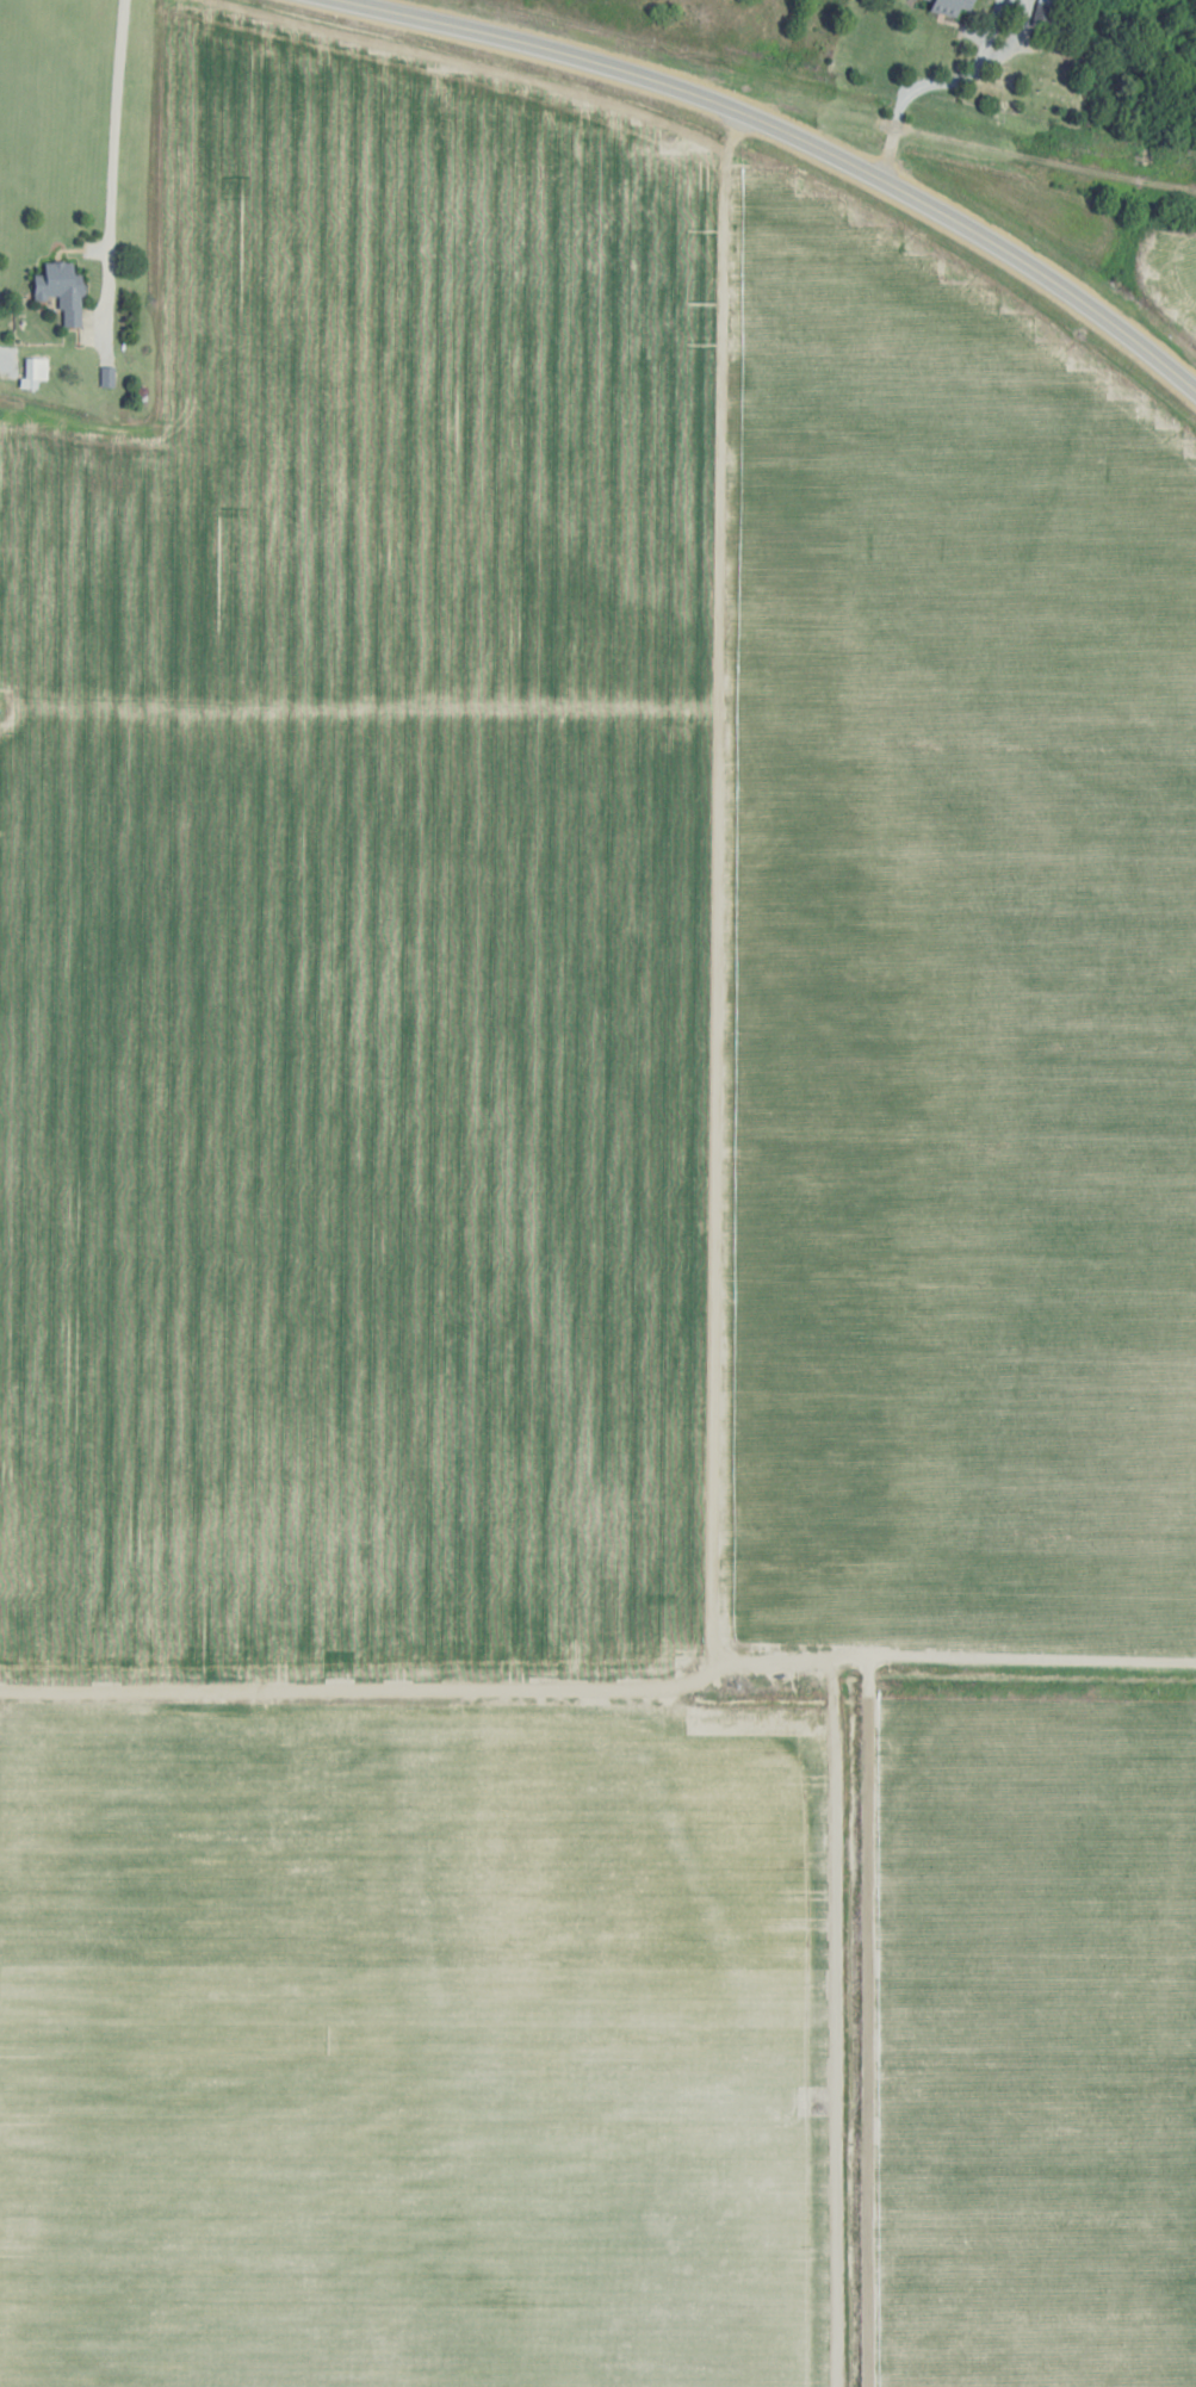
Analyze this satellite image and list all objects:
building: (948, 6)
road: (793, 135)
building: (61, 291)
building: (32, 372)
building: (106, 379)

